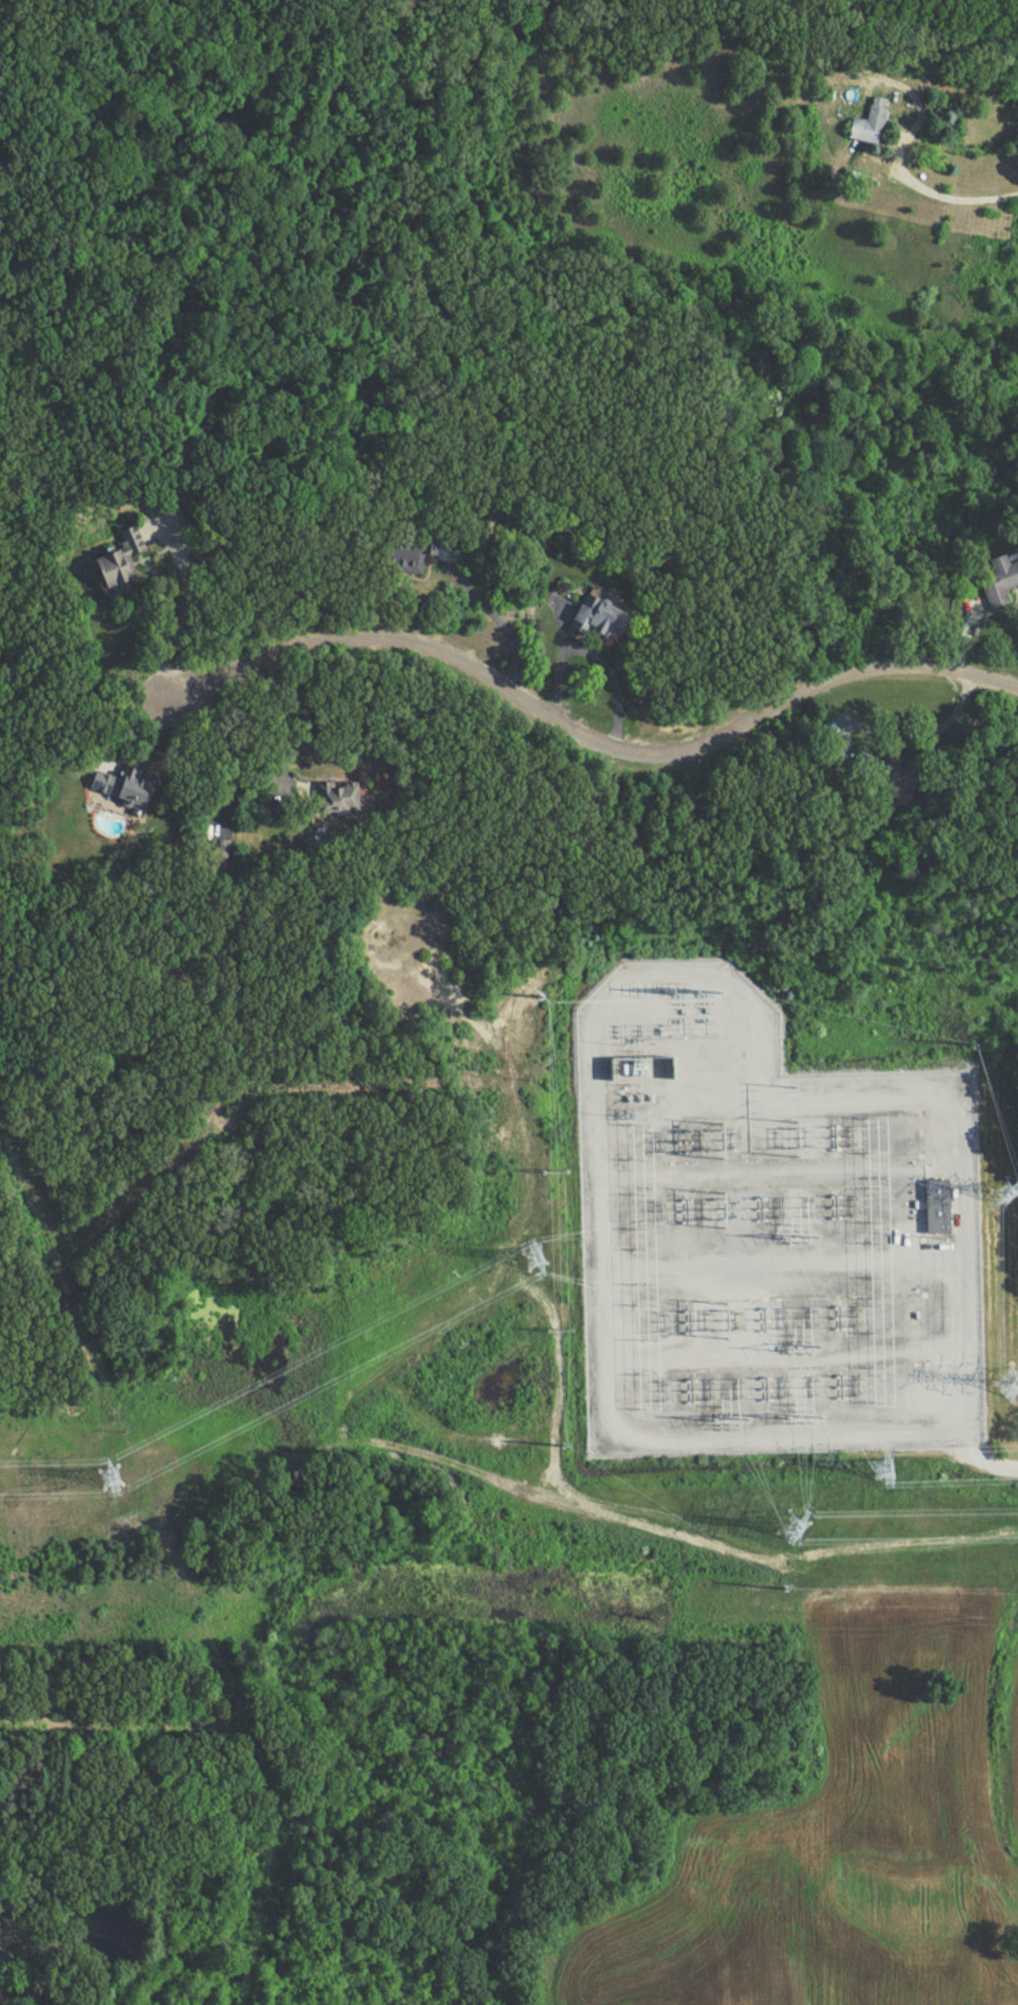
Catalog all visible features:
building: (871, 123)
road: (896, 160)
building: (122, 562)
building: (405, 566)
building: (1001, 582)
road: (183, 607)
road: (497, 618)
building: (603, 619)
road: (961, 633)
road: (556, 656)
road: (611, 677)
road: (131, 713)
road: (592, 734)
road: (909, 739)
building: (898, 777)
building: (125, 786)
building: (337, 798)
power tower: (538, 1000)
road: (602, 1002)
power tower: (1011, 1194)
building: (942, 1208)
power substation: (769, 1234)
power tower: (537, 1258)
power tower: (1011, 1386)
power tower: (563, 1448)
road: (983, 1462)
power tower: (882, 1472)
power tower: (115, 1480)
power tower: (792, 1536)
power tower: (782, 1592)

